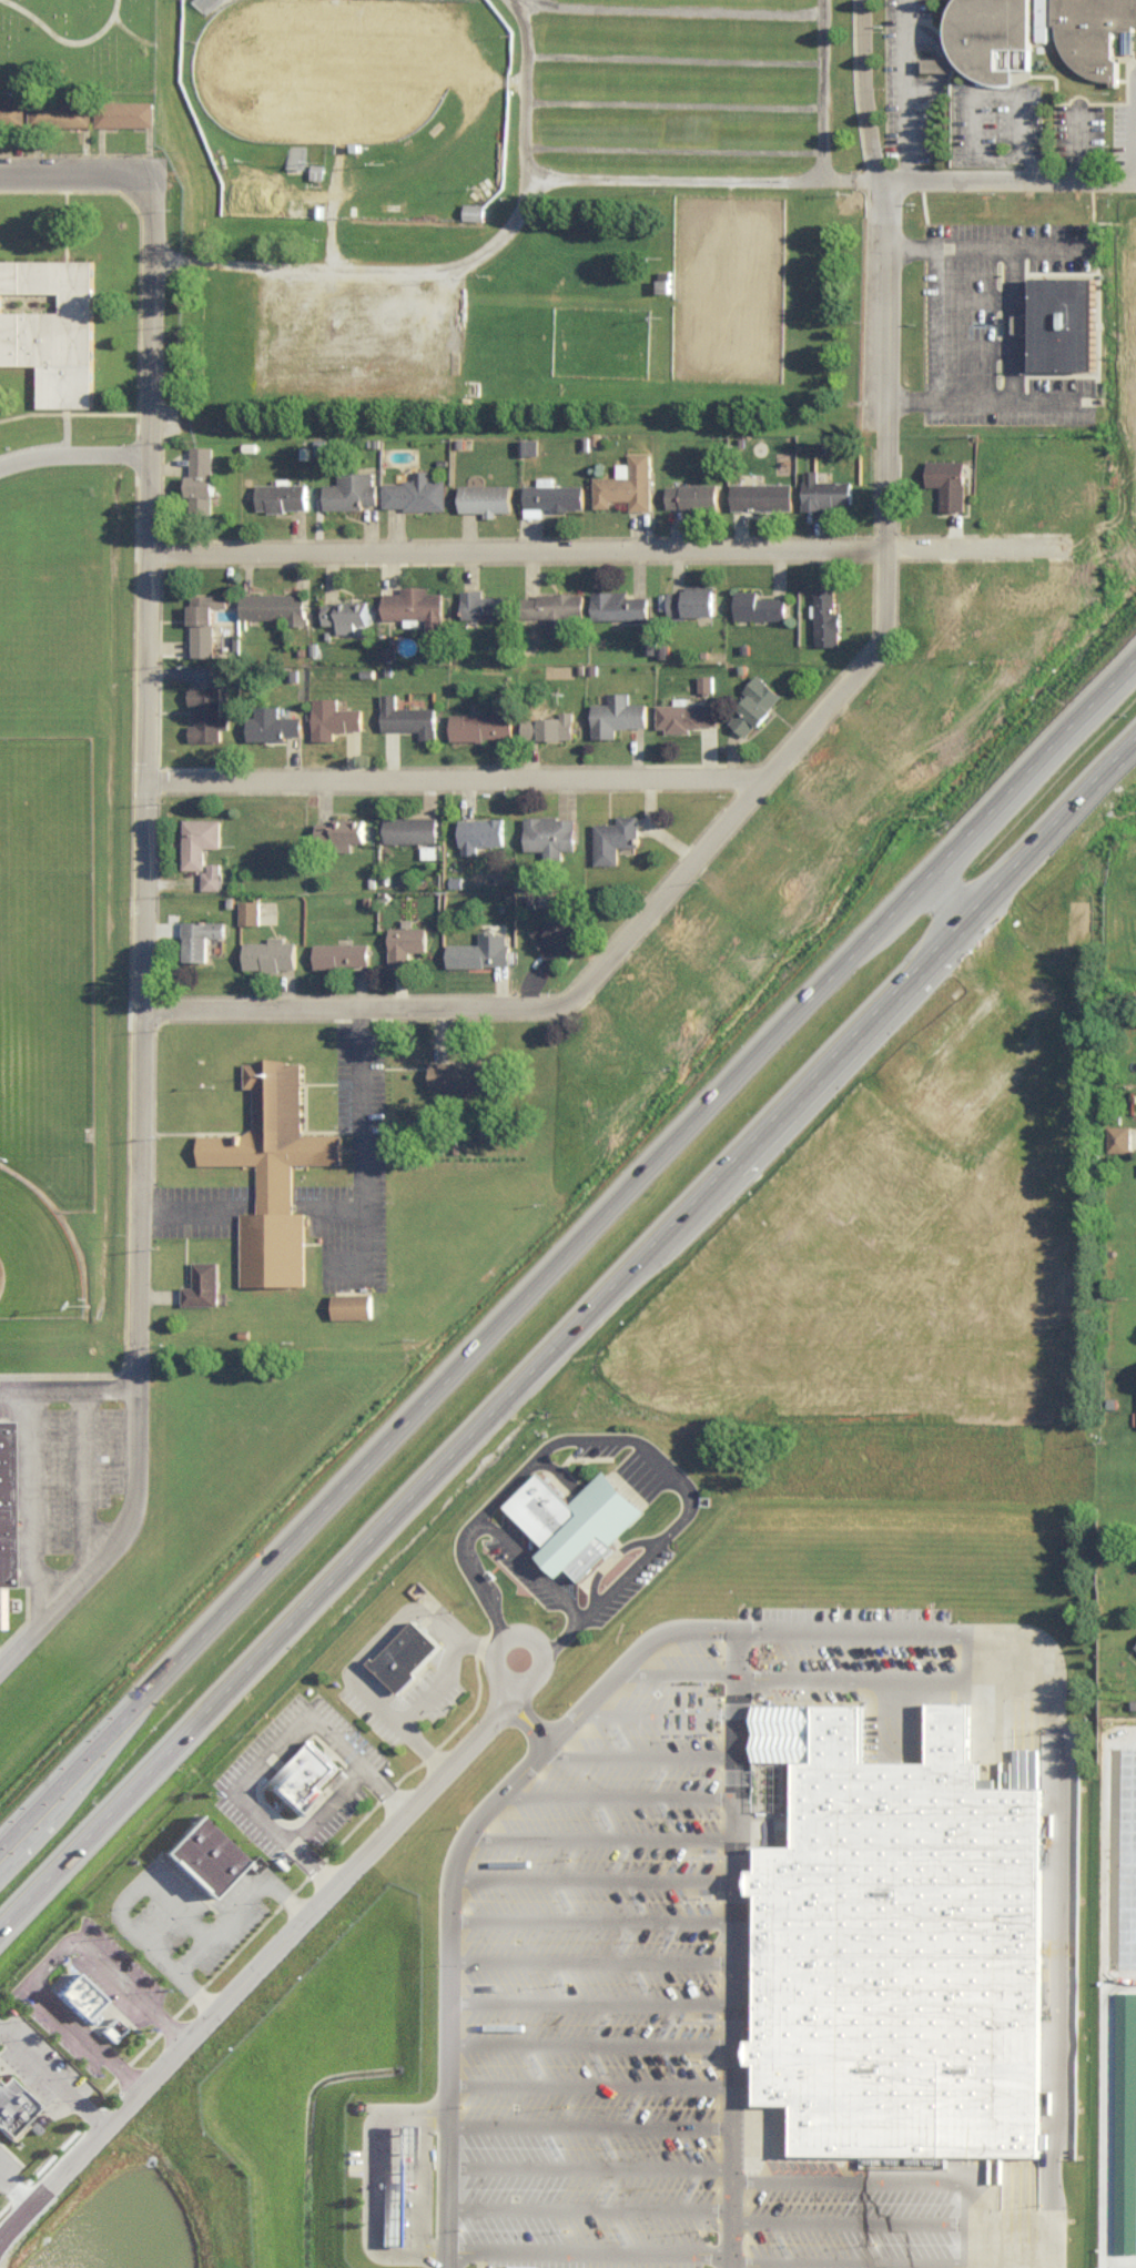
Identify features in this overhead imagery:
building: (206, 3)
road: (683, 7)
road: (142, 24)
park: (84, 32)
building: (1093, 32)
road: (79, 33)
building: (1043, 33)
building: (994, 38)
park: (348, 62)
building: (937, 63)
road: (833, 84)
road: (907, 89)
road: (987, 93)
building: (11, 111)
building: (59, 112)
building: (123, 112)
parking lot: (1129, 130)
road: (78, 165)
road: (708, 169)
road: (1005, 178)
building: (474, 211)
road: (990, 240)
road: (460, 260)
road: (885, 271)
building: (665, 281)
road: (992, 291)
road: (958, 315)
road: (1025, 316)
building: (1064, 323)
building: (50, 324)
building: (1124, 337)
road: (992, 341)
road: (985, 393)
road: (79, 444)
building: (529, 444)
building: (201, 476)
building: (947, 480)
building: (627, 482)
building: (351, 489)
building: (414, 490)
building: (824, 490)
building: (692, 494)
building: (762, 494)
building: (282, 495)
building: (551, 495)
building: (485, 497)
road: (609, 545)
road: (159, 587)
building: (689, 600)
building: (484, 604)
building: (619, 604)
building: (759, 604)
building: (274, 605)
building: (417, 606)
building: (554, 608)
building: (346, 612)
building: (826, 616)
building: (204, 621)
road: (1116, 622)
road: (1116, 629)
building: (706, 681)
building: (755, 703)
building: (206, 711)
building: (617, 713)
building: (686, 715)
building: (408, 716)
building: (333, 717)
building: (486, 719)
building: (272, 723)
building: (549, 725)
road: (993, 762)
road: (465, 773)
road: (765, 781)
road: (1010, 818)
building: (410, 827)
building: (341, 828)
building: (480, 831)
building: (550, 832)
building: (613, 837)
road: (1010, 838)
building: (199, 839)
building: (429, 850)
building: (212, 874)
building: (548, 898)
building: (248, 910)
building: (559, 932)
building: (200, 936)
building: (405, 942)
building: (480, 950)
building: (270, 952)
building: (341, 953)
road: (367, 999)
road: (807, 1040)
building: (465, 1072)
building: (1119, 1136)
road: (374, 1145)
building: (274, 1173)
road: (352, 1203)
road: (193, 1204)
park: (41, 1244)
building: (935, 1249)
building: (202, 1283)
building: (352, 1304)
road: (446, 1358)
road: (149, 1361)
road: (73, 1379)
parking lot: (610, 1438)
building: (1031, 1442)
road: (667, 1448)
road: (427, 1450)
road: (83, 1478)
road: (32, 1497)
building: (11, 1501)
building: (585, 1516)
road: (622, 1549)
road: (541, 1558)
parking lot: (537, 1565)
parking lot: (637, 1578)
road: (488, 1583)
road: (408, 1611)
road: (854, 1624)
road: (559, 1642)
road: (491, 1644)
building: (1135, 1644)
road: (464, 1648)
parking lot: (855, 1649)
building: (416, 1650)
road: (641, 1651)
road: (688, 1668)
road: (1013, 1668)
road: (862, 1669)
road: (444, 1683)
parking lot: (445, 1684)
road: (386, 1693)
parking lot: (385, 1699)
road: (536, 1707)
road: (667, 1708)
road: (415, 1714)
parking lot: (358, 1727)
road: (290, 1737)
parking lot: (274, 1738)
road: (436, 1743)
road: (648, 1745)
road: (369, 1766)
building: (314, 1773)
road: (398, 1786)
road: (627, 1789)
road: (339, 1799)
parking lot: (347, 1806)
road: (291, 1812)
parking lot: (264, 1816)
road: (609, 1829)
road: (308, 1831)
road: (301, 1834)
road: (62, 1846)
building: (214, 1850)
road: (323, 1855)
road: (601, 1871)
road: (291, 1882)
road: (146, 1887)
parking lot: (166, 1902)
parking lot: (244, 1910)
road: (601, 1913)
road: (1064, 1913)
road: (233, 1916)
road: (213, 1922)
building: (907, 1940)
road: (744, 1946)
road: (61, 1947)
road: (267, 1952)
road: (600, 1953)
road: (195, 1956)
parking lot: (130, 1965)
road: (129, 1966)
road: (197, 1973)
road: (457, 1982)
road: (65, 1989)
building: (89, 1989)
road: (600, 1997)
road: (80, 2012)
parking lot: (647, 2013)
parking lot: (7, 2014)
road: (182, 2017)
parking lot: (74, 2023)
road: (600, 2038)
parking lot: (2, 2054)
road: (48, 2054)
parking lot: (55, 2059)
road: (132, 2059)
road: (600, 2078)
building: (18, 2100)
road: (103, 2105)
road: (599, 2118)
building: (1126, 2123)
parking lot: (11, 2157)
road: (599, 2159)
road: (9, 2165)
road: (859, 2174)
road: (385, 2176)
road: (432, 2177)
building: (409, 2180)
gas station: (409, 2180)
road: (29, 2183)
road: (599, 2201)
road: (879, 2215)
road: (599, 2242)
road: (880, 2257)
road: (1018, 2258)

